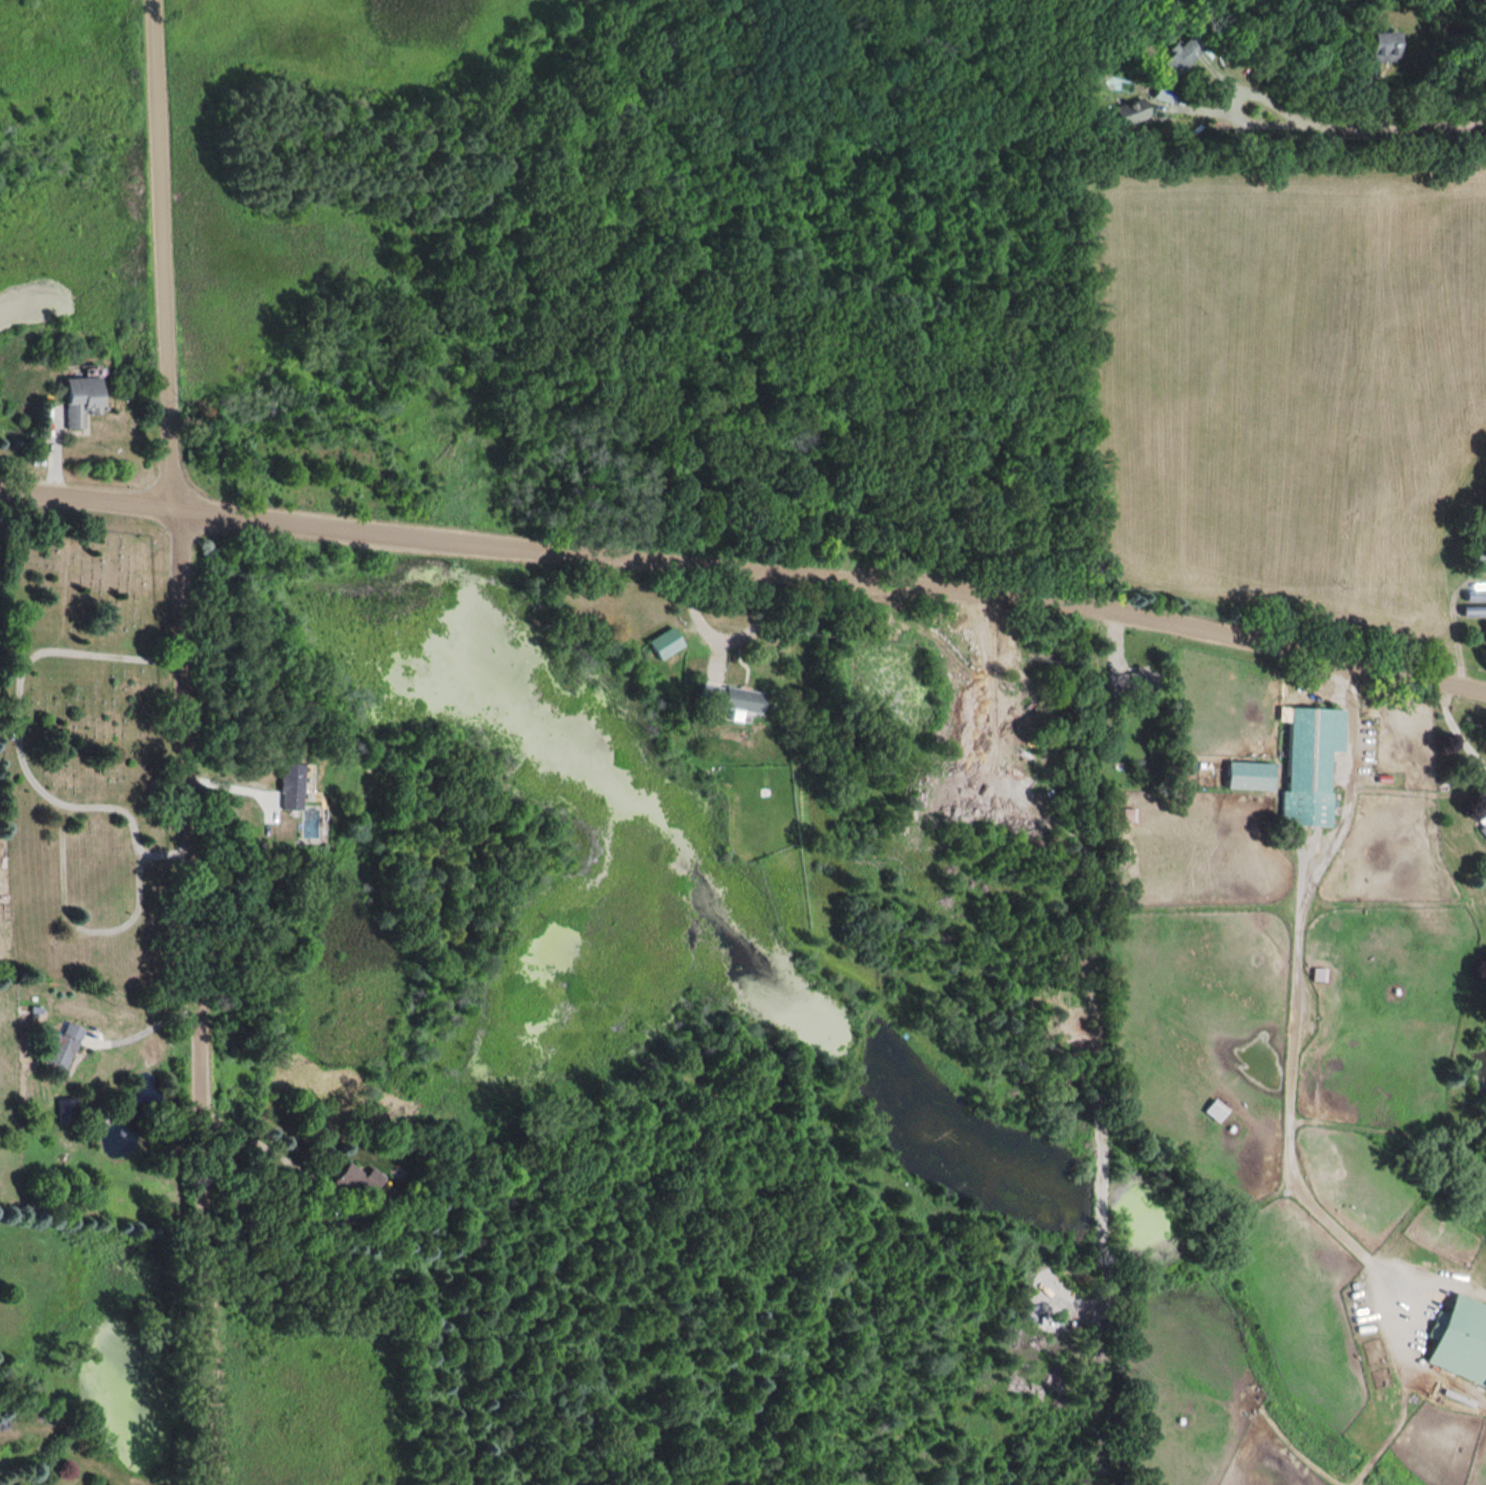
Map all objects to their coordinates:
building: (1382, 45)
building: (1179, 53)
building: (1128, 111)
road: (1234, 117)
road: (1392, 122)
park: (642, 274)
building: (77, 399)
building: (1478, 556)
road: (746, 569)
road: (726, 638)
building: (664, 642)
building: (1129, 682)
building: (730, 696)
road: (1456, 729)
road: (16, 736)
road: (183, 742)
park: (87, 751)
building: (1308, 762)
building: (1246, 775)
building: (289, 785)
building: (1482, 829)
road: (77, 923)
building: (1317, 973)
road: (1299, 998)
road: (144, 1027)
building: (62, 1043)
building: (1214, 1109)
road: (271, 1153)
building: (354, 1183)
building: (1459, 1338)

